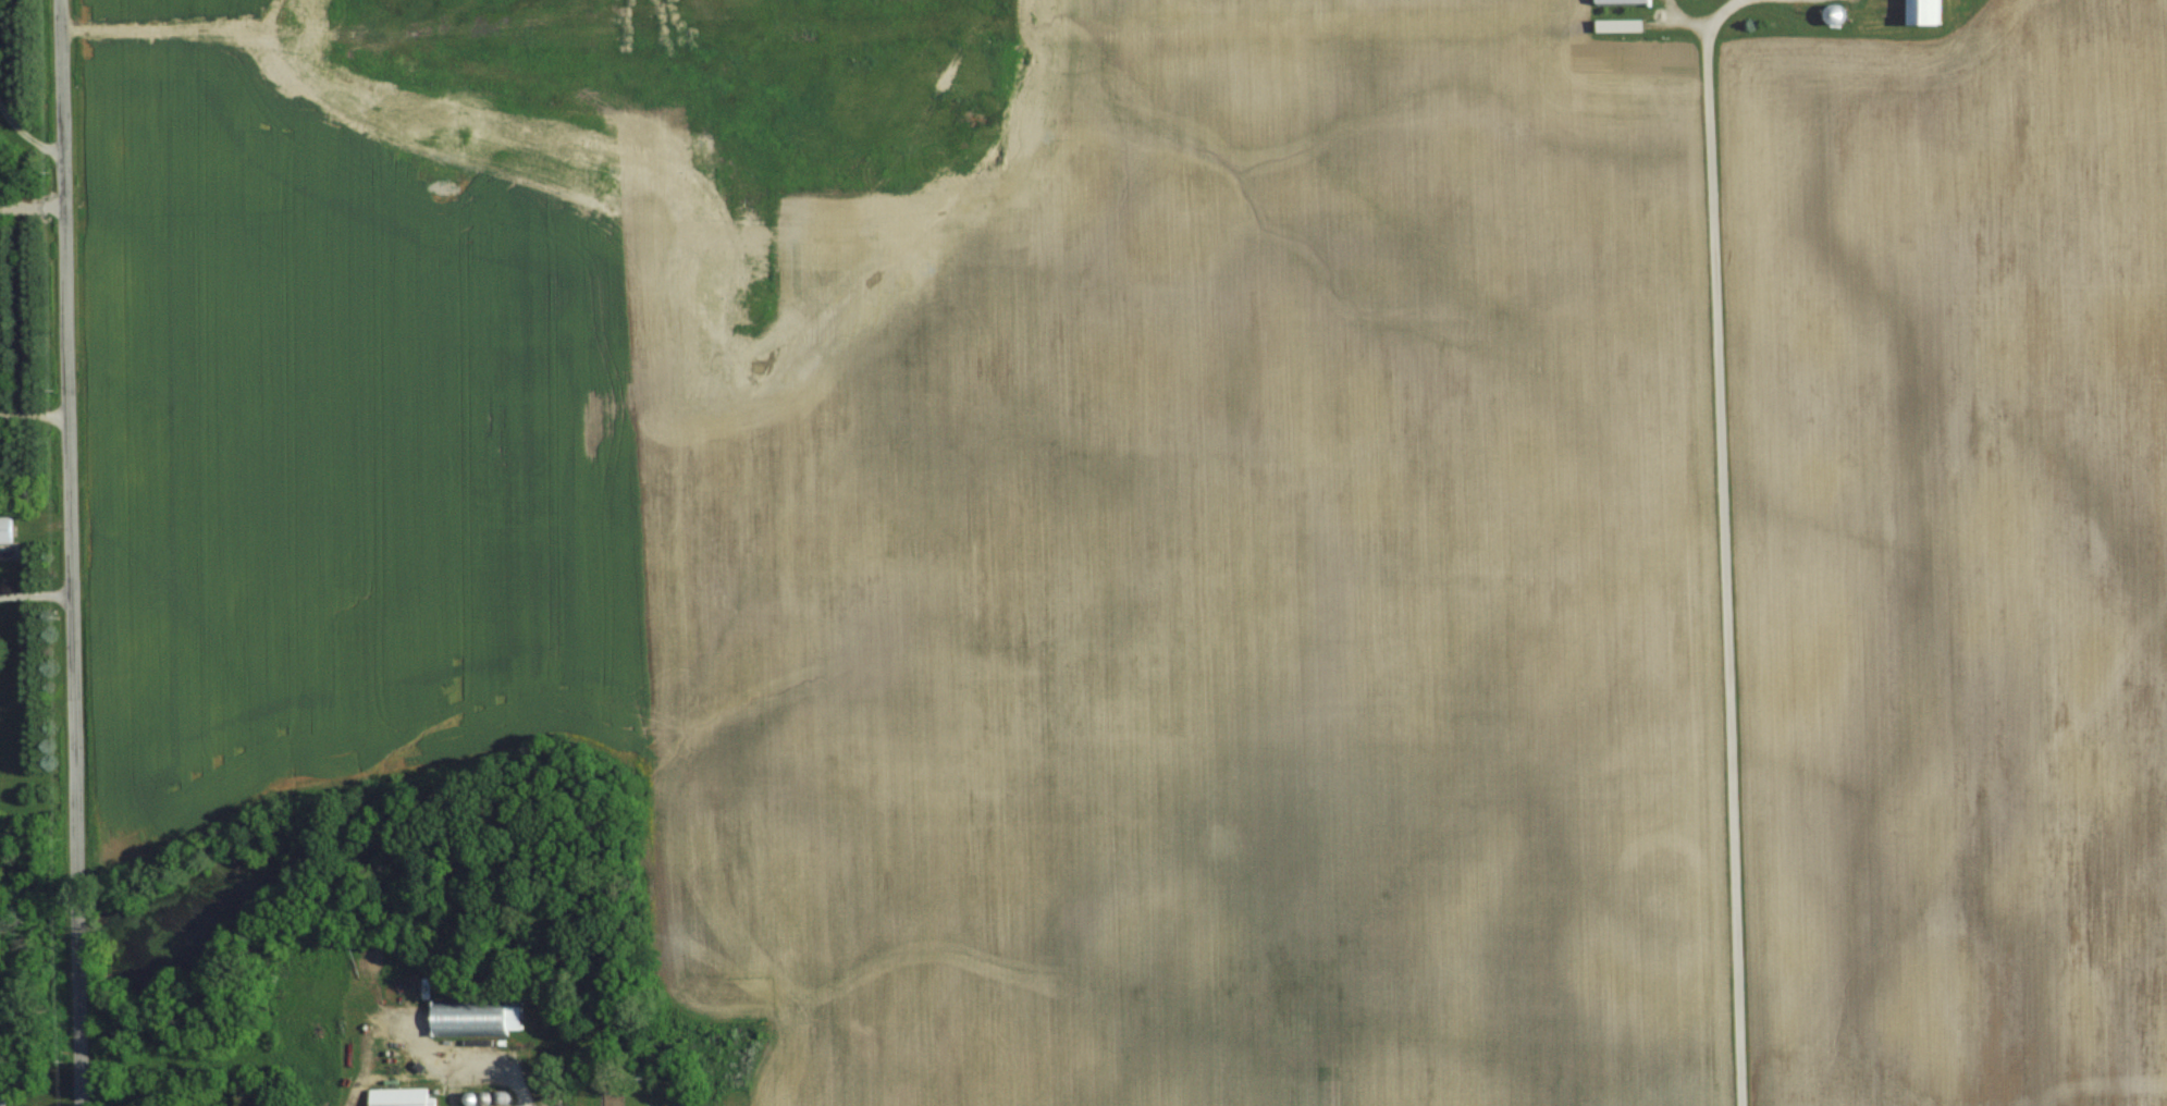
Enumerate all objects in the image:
building: (1628, 1)
building: (1842, 12)
building: (1625, 24)
road: (26, 136)
road: (34, 414)
building: (8, 529)
road: (70, 552)
road: (1728, 565)
road: (35, 595)
road: (431, 1055)
building: (402, 1097)

